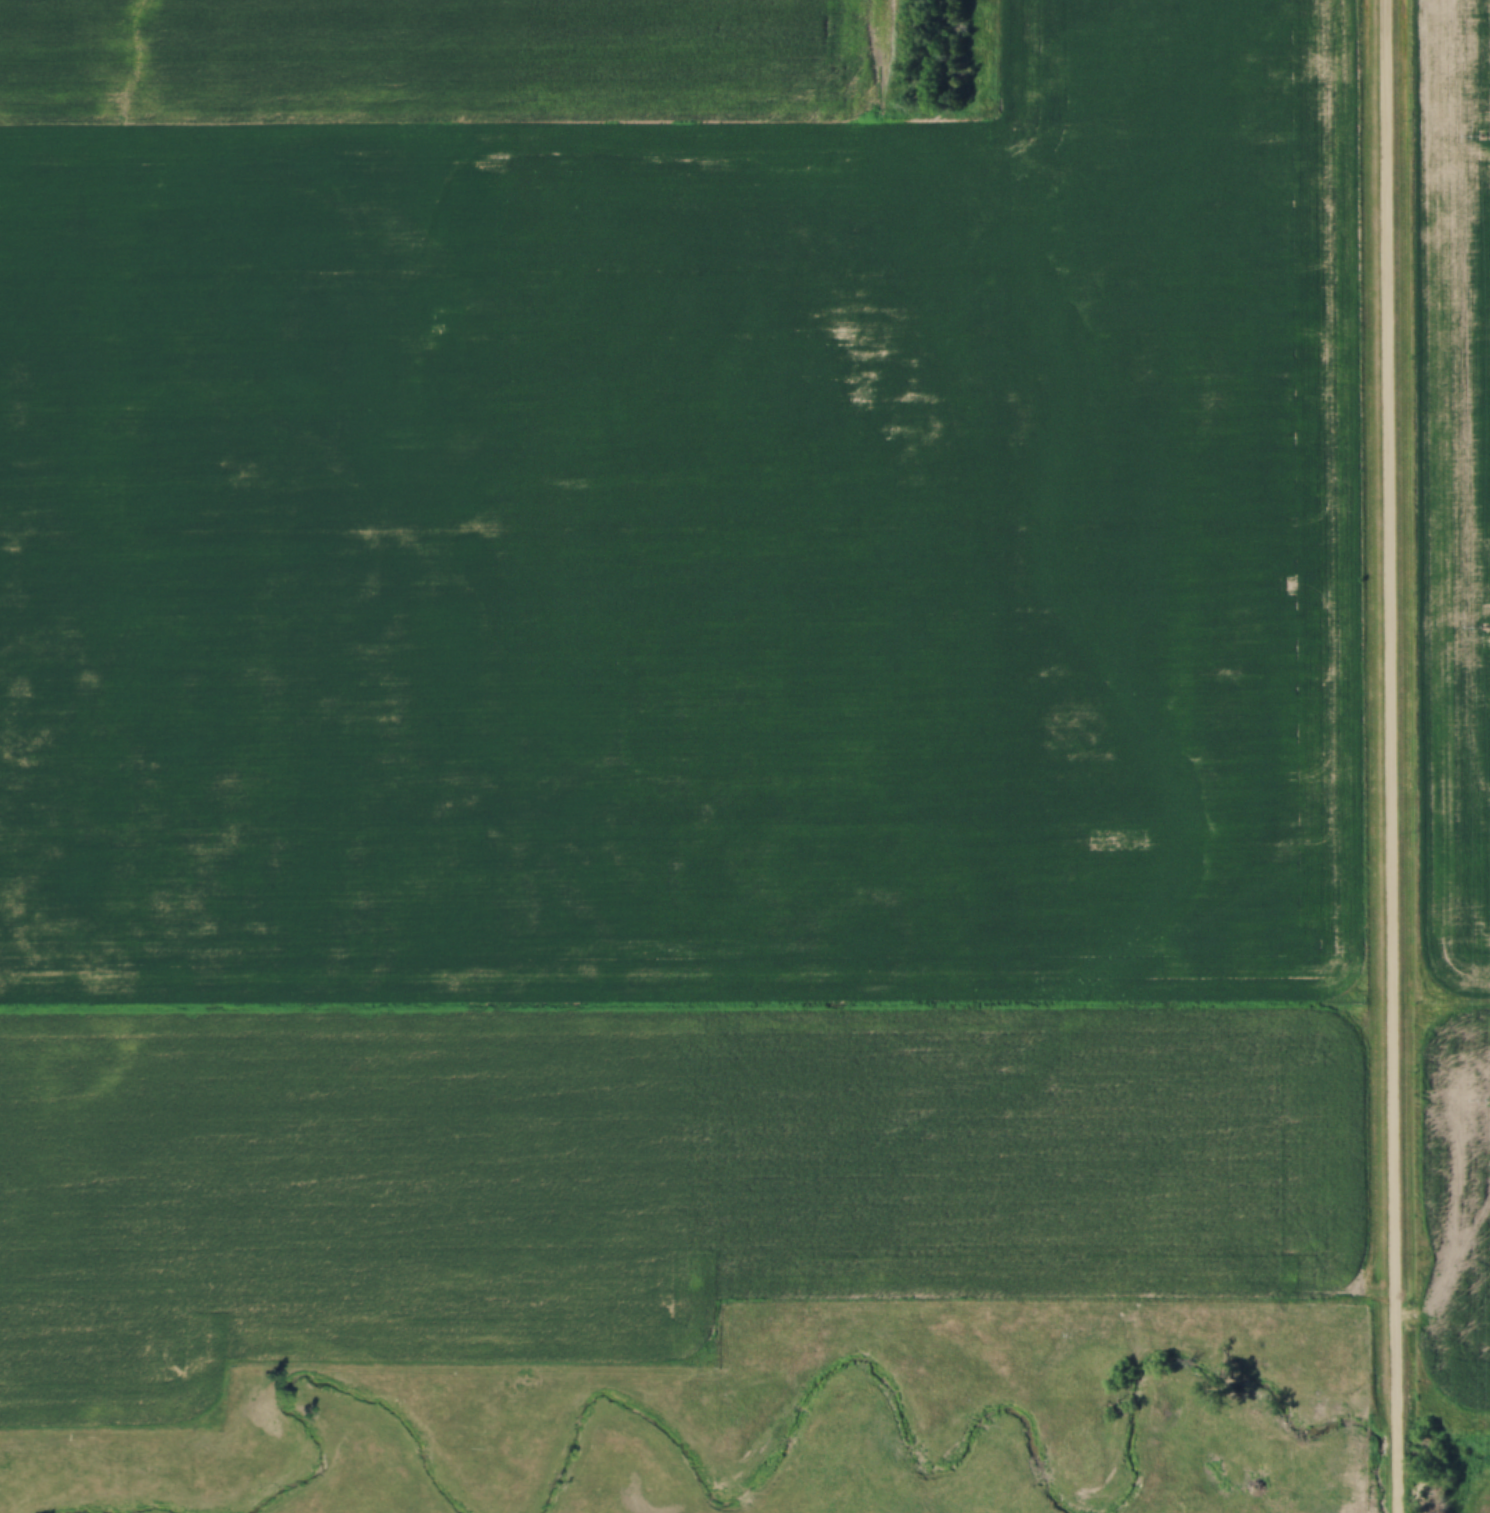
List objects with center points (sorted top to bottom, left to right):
power tower: (1486, 138)
power tower: (1489, 629)
road: (1395, 756)
building: (1161, 1512)

